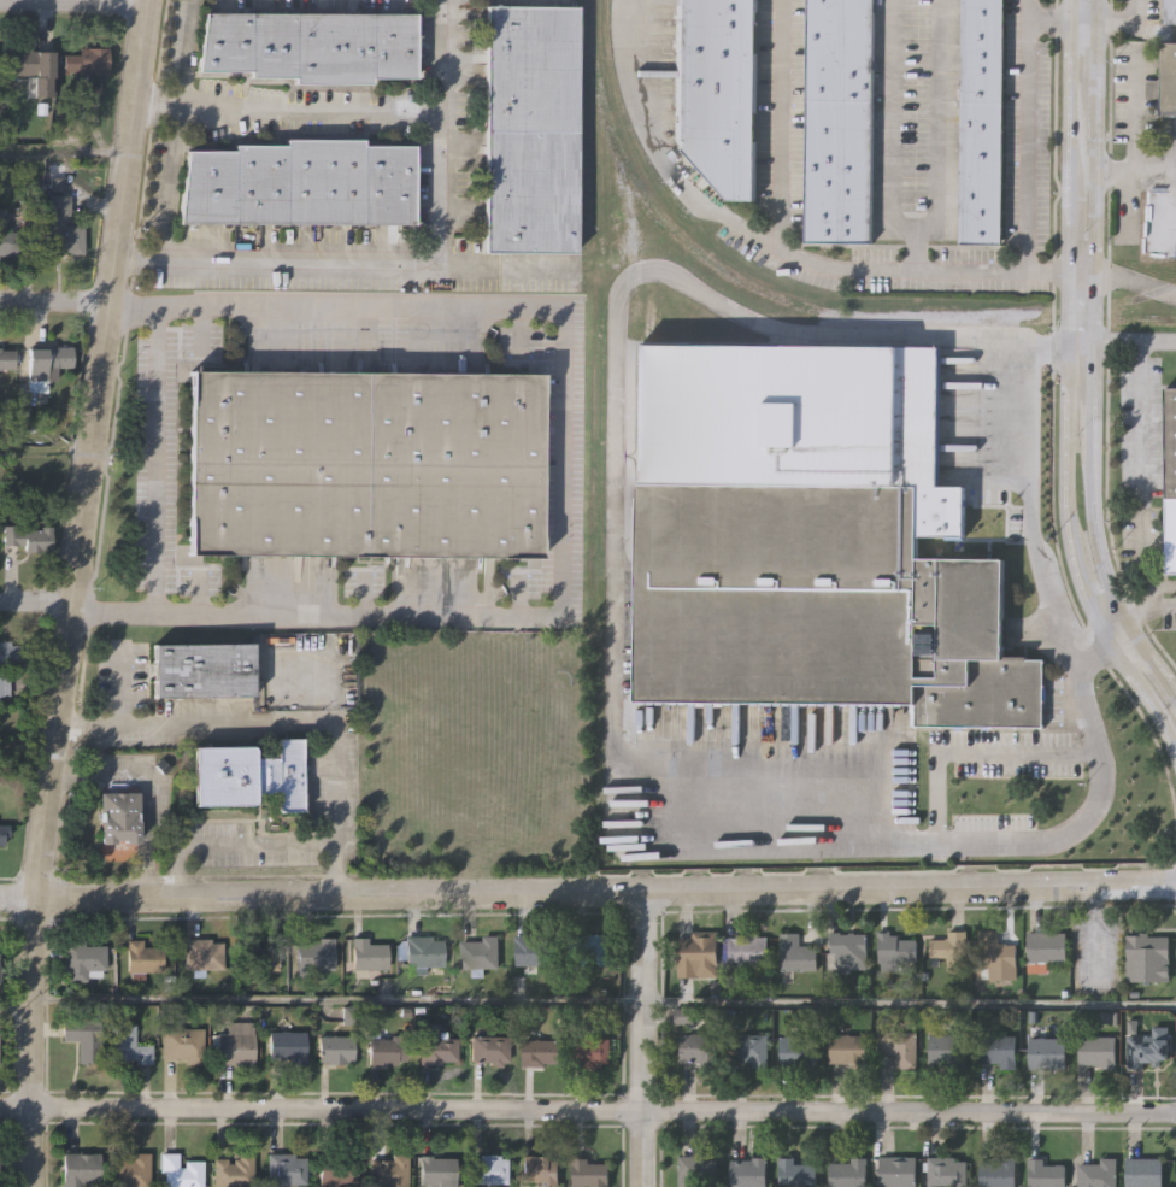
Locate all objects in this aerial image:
road: (73, 1)
road: (1031, 8)
road: (1095, 8)
road: (1137, 10)
building: (1170, 10)
road: (1063, 18)
road: (1116, 18)
road: (1156, 28)
building: (310, 47)
road: (186, 52)
building: (89, 59)
road: (1095, 63)
building: (33, 69)
building: (1169, 77)
building: (716, 89)
road: (940, 108)
road: (305, 111)
road: (890, 111)
building: (839, 119)
building: (982, 121)
road: (777, 123)
building: (529, 128)
road: (1133, 131)
road: (1029, 142)
road: (661, 146)
road: (64, 152)
road: (169, 163)
road: (1168, 164)
road: (1146, 169)
road: (1082, 171)
building: (299, 183)
road: (1093, 222)
building: (60, 228)
road: (902, 229)
building: (10, 235)
road: (915, 236)
road: (407, 264)
road: (843, 264)
road: (505, 265)
road: (1040, 266)
railway: (724, 271)
railway: (1172, 281)
road: (1169, 292)
road: (54, 300)
railway: (1088, 306)
railway: (1084, 321)
railway: (1156, 322)
road: (1134, 337)
road: (1081, 354)
building: (6, 360)
building: (45, 366)
road: (1069, 383)
road: (1092, 393)
railway: (630, 413)
building: (794, 418)
road: (45, 449)
road: (154, 459)
building: (364, 463)
road: (1140, 464)
building: (1170, 480)
road: (560, 482)
road: (1031, 513)
building: (28, 536)
road: (1096, 536)
road: (72, 592)
road: (1147, 595)
road: (36, 598)
building: (818, 603)
road: (611, 641)
road: (1151, 654)
building: (8, 662)
building: (204, 668)
road: (281, 722)
road: (27, 748)
road: (974, 748)
building: (249, 774)
road: (147, 789)
building: (118, 816)
building: (4, 832)
road: (231, 845)
road: (588, 891)
building: (1047, 946)
building: (589, 948)
building: (531, 950)
building: (748, 950)
building: (848, 950)
building: (949, 951)
building: (894, 952)
building: (423, 953)
building: (480, 953)
building: (699, 953)
building: (313, 954)
building: (367, 954)
building: (795, 954)
building: (202, 956)
building: (1147, 957)
building: (996, 958)
building: (143, 959)
building: (257, 959)
building: (83, 960)
road: (336, 1000)
road: (910, 1001)
road: (14, 1007)
building: (80, 1039)
road: (643, 1039)
building: (235, 1042)
building: (127, 1044)
building: (181, 1044)
building: (286, 1046)
building: (435, 1046)
building: (749, 1047)
building: (899, 1047)
building: (335, 1048)
building: (387, 1048)
building: (699, 1048)
building: (1146, 1048)
building: (489, 1050)
building: (847, 1050)
building: (998, 1050)
building: (539, 1051)
building: (590, 1051)
building: (946, 1051)
building: (1098, 1051)
building: (798, 1052)
building: (1045, 1052)
road: (588, 1107)
building: (80, 1169)
building: (284, 1169)
building: (336, 1169)
building: (489, 1169)
building: (539, 1170)
building: (698, 1170)
building: (129, 1171)
building: (180, 1171)
building: (233, 1171)
building: (388, 1171)
building: (436, 1171)
building: (749, 1171)
building: (898, 1171)
building: (947, 1171)
building: (999, 1171)
building: (1145, 1171)
building: (588, 1173)
building: (796, 1173)
building: (846, 1173)
building: (1046, 1173)
building: (1099, 1173)

